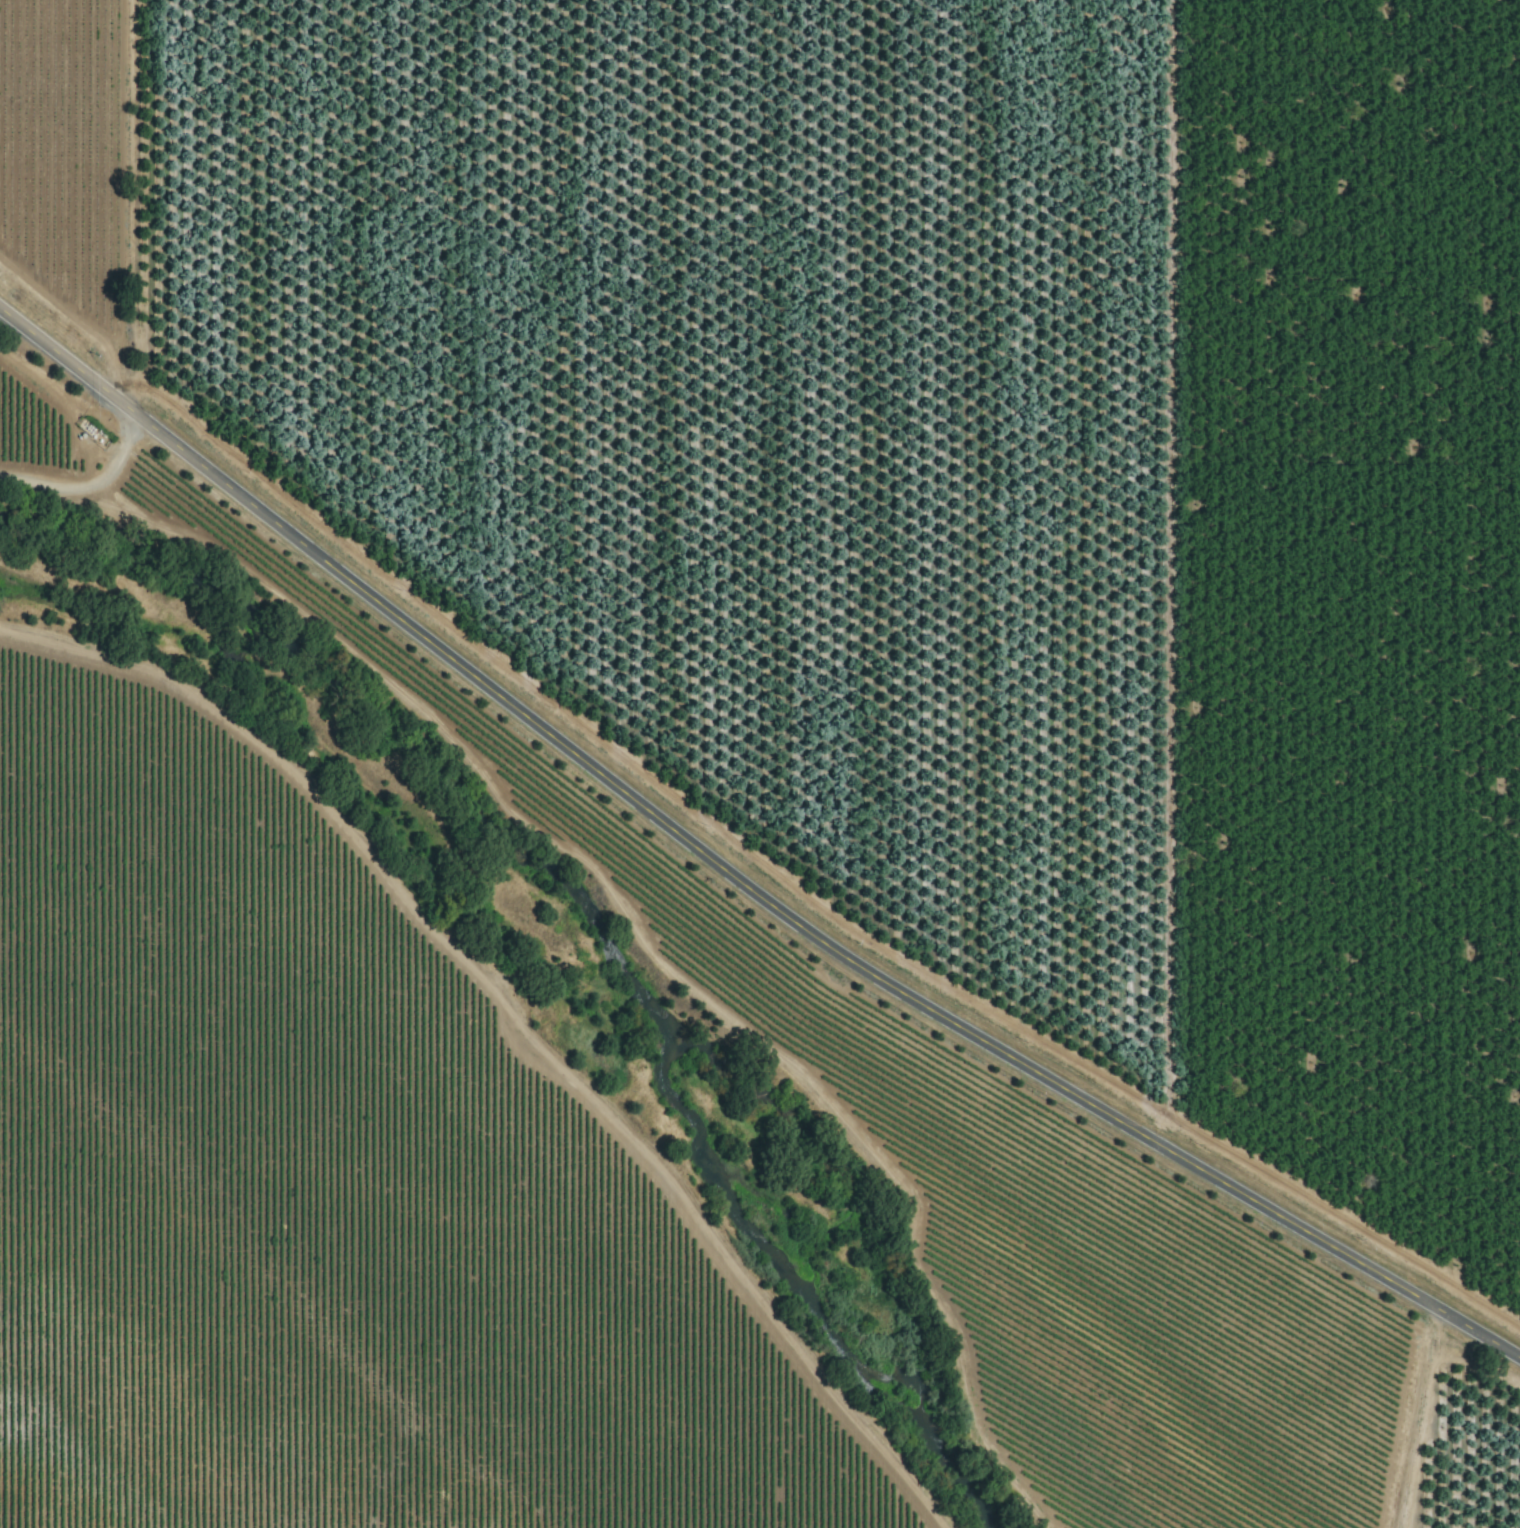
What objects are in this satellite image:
road: (88, 489)
road: (730, 877)

